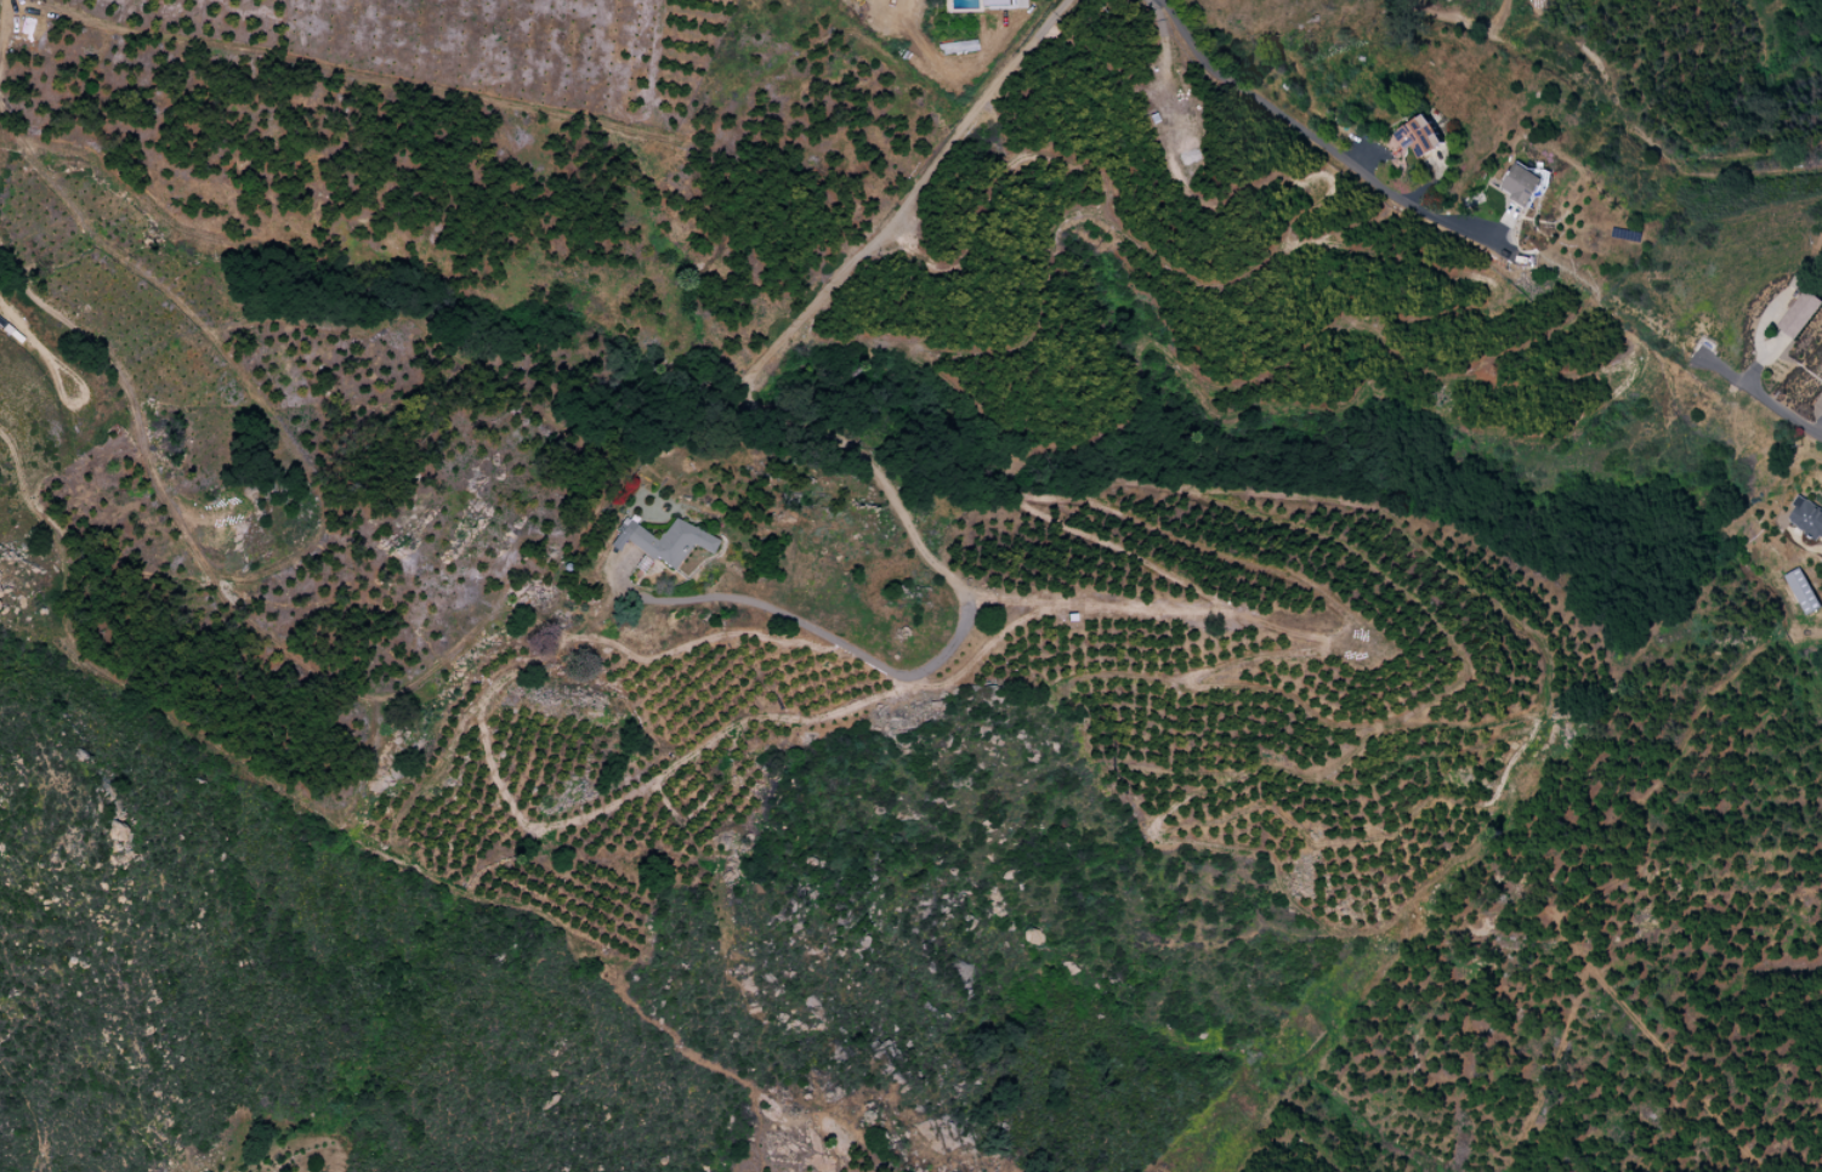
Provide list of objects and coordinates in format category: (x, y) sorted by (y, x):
building: (1001, 5)
building: (957, 46)
road: (964, 121)
road: (1319, 136)
building: (1420, 137)
building: (1522, 184)
building: (1801, 313)
road: (8, 314)
road: (1761, 394)
building: (1807, 517)
building: (664, 542)
road: (936, 568)
building: (1803, 591)

